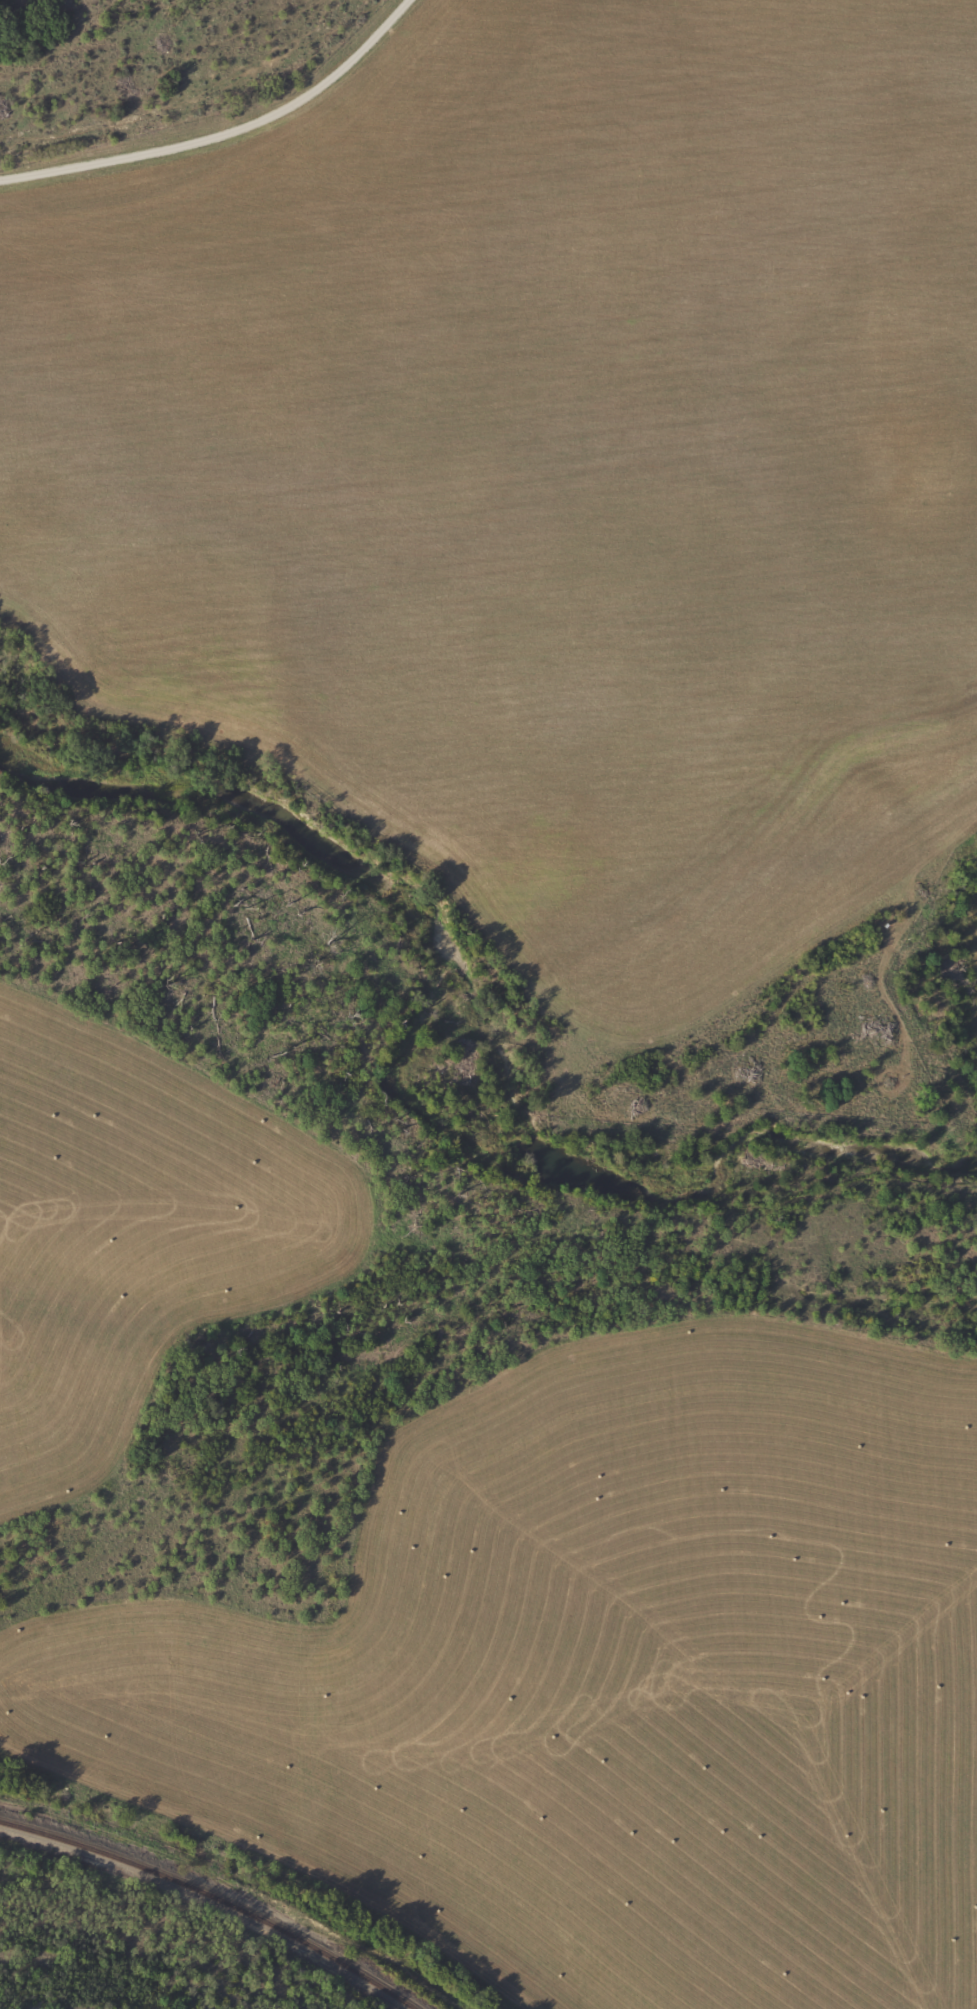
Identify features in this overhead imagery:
road: (223, 131)
railway: (213, 1899)

